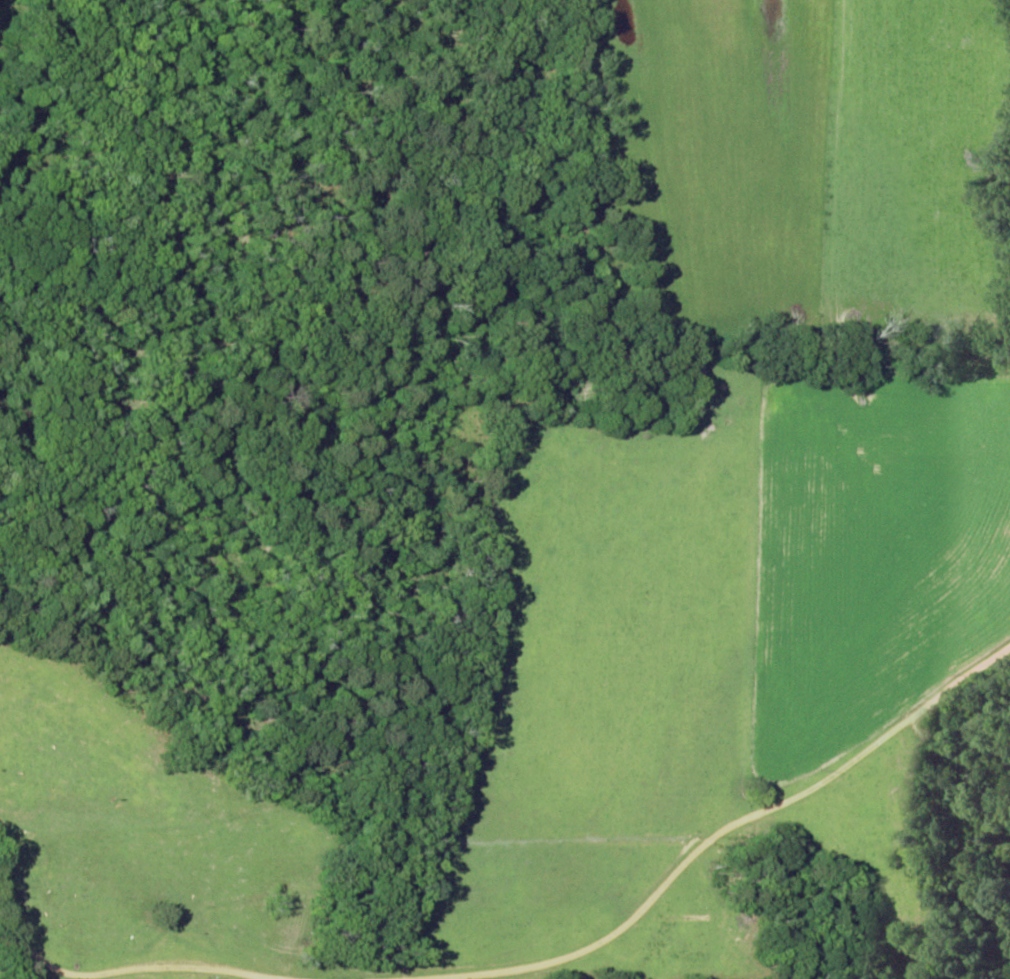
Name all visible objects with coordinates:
road: (8, 28)

